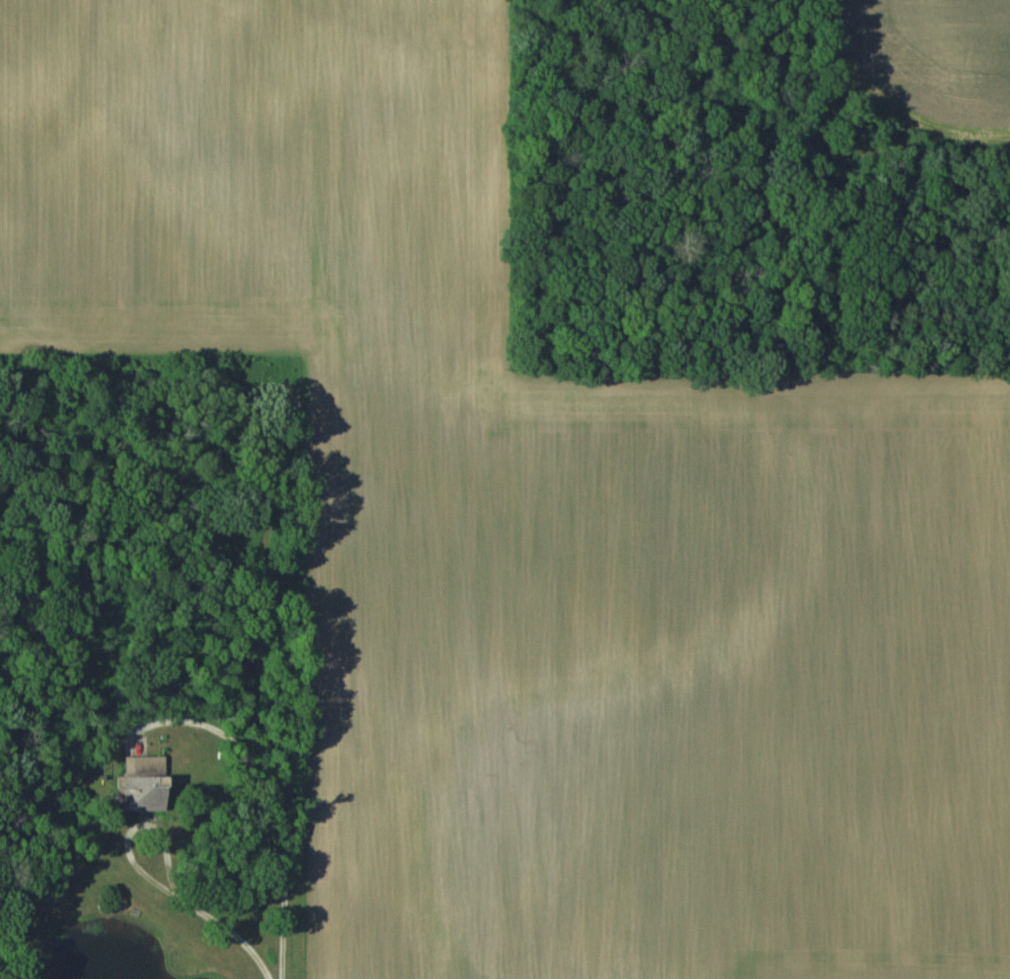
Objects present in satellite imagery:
building: (143, 783)

